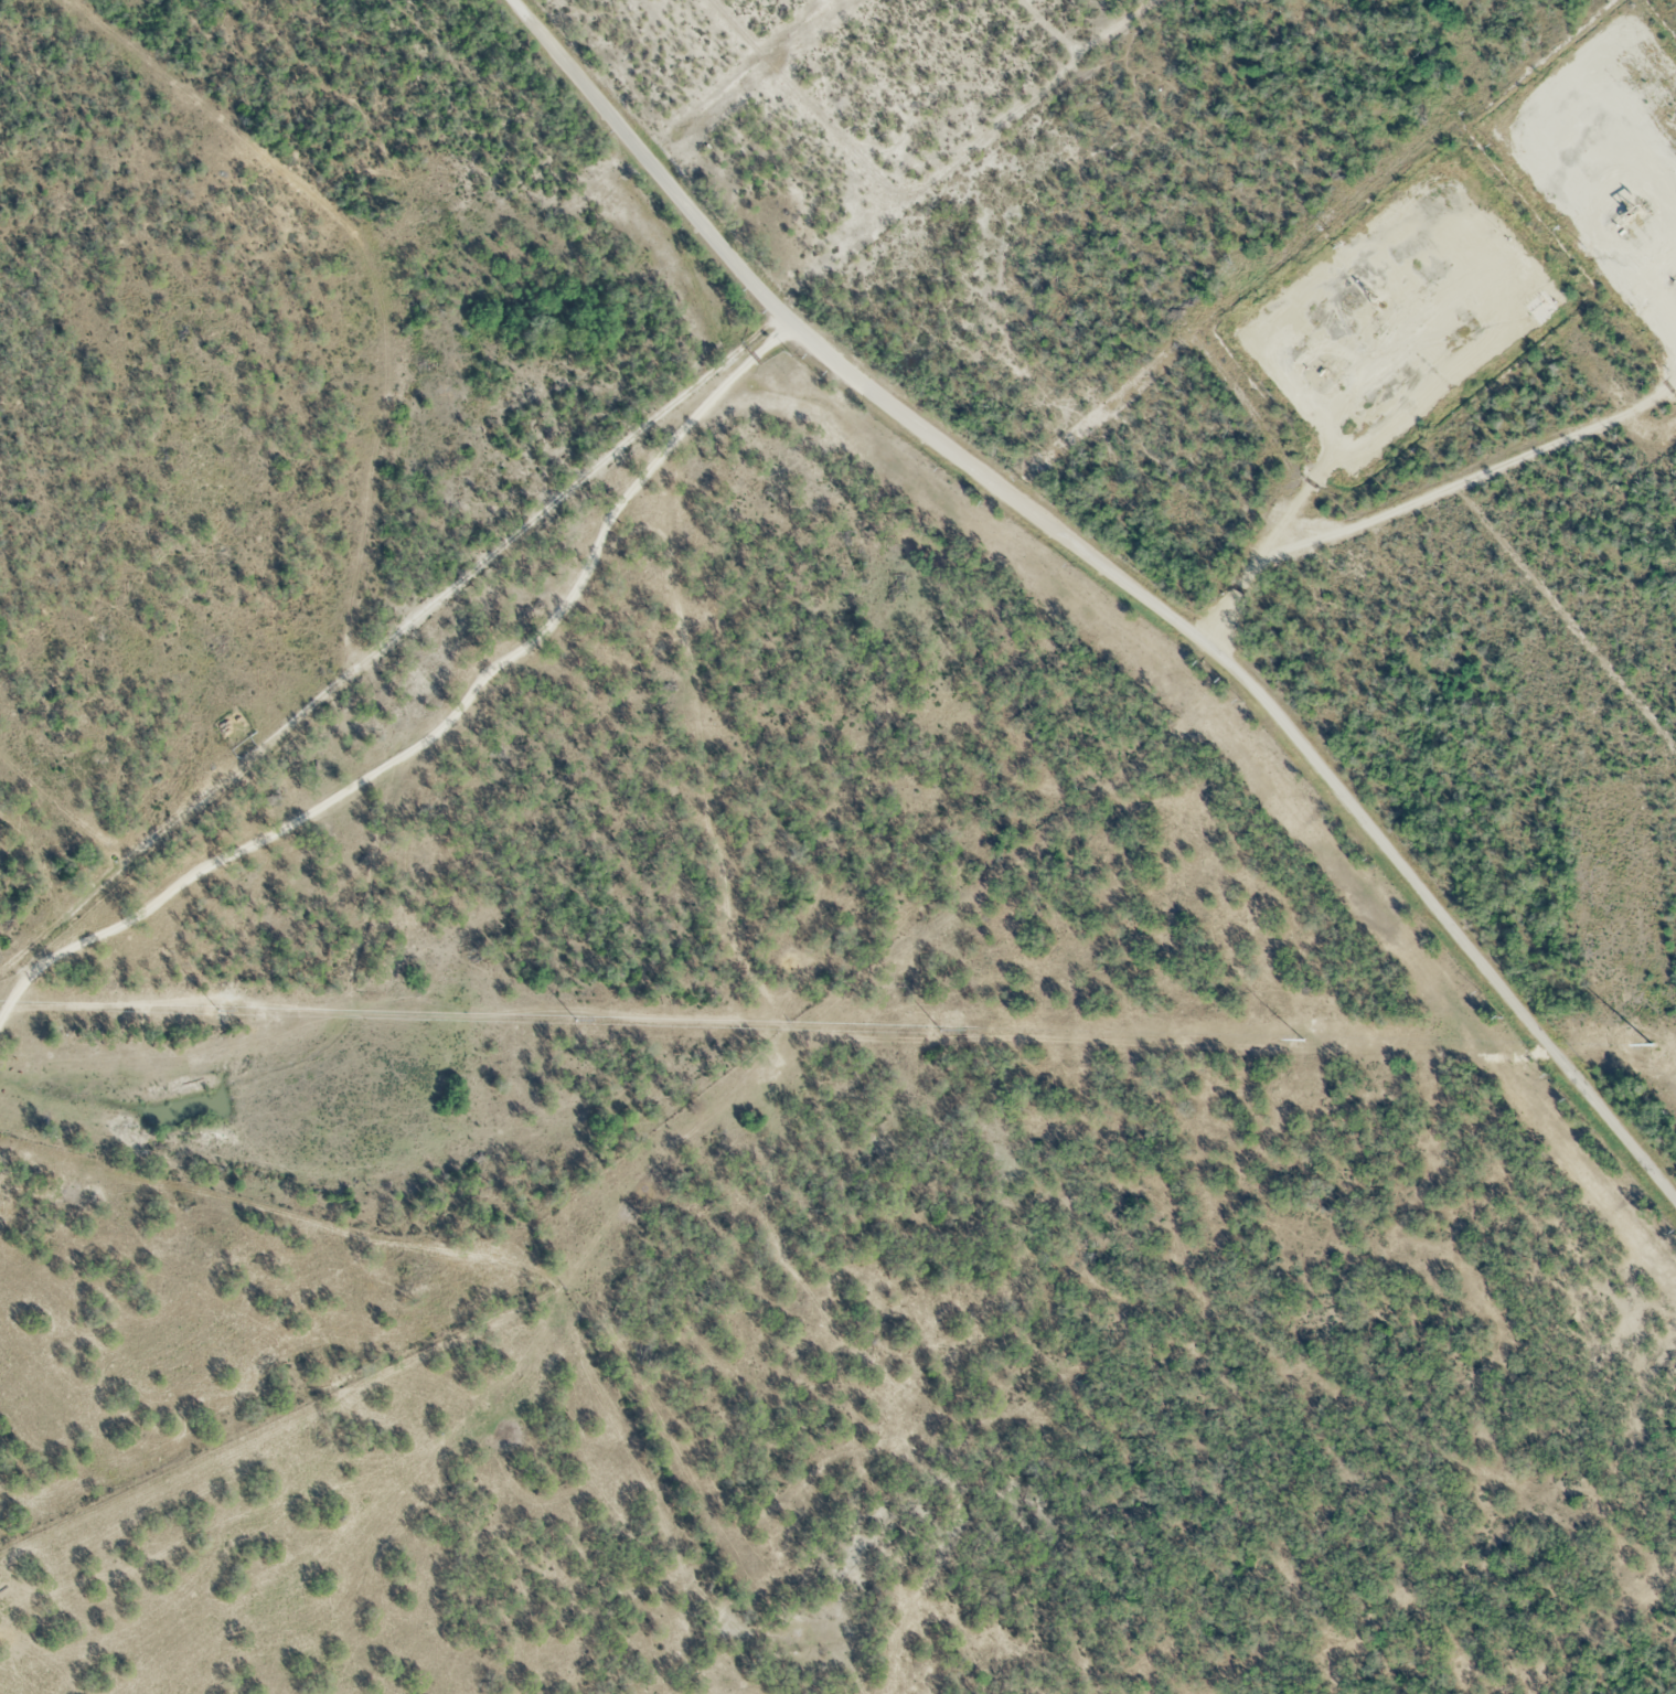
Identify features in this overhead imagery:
road: (1115, 574)
road: (447, 733)
power tower: (214, 1009)
power tower: (575, 1021)
power tower: (936, 1030)
power tower: (1293, 1037)
power tower: (1654, 1051)

